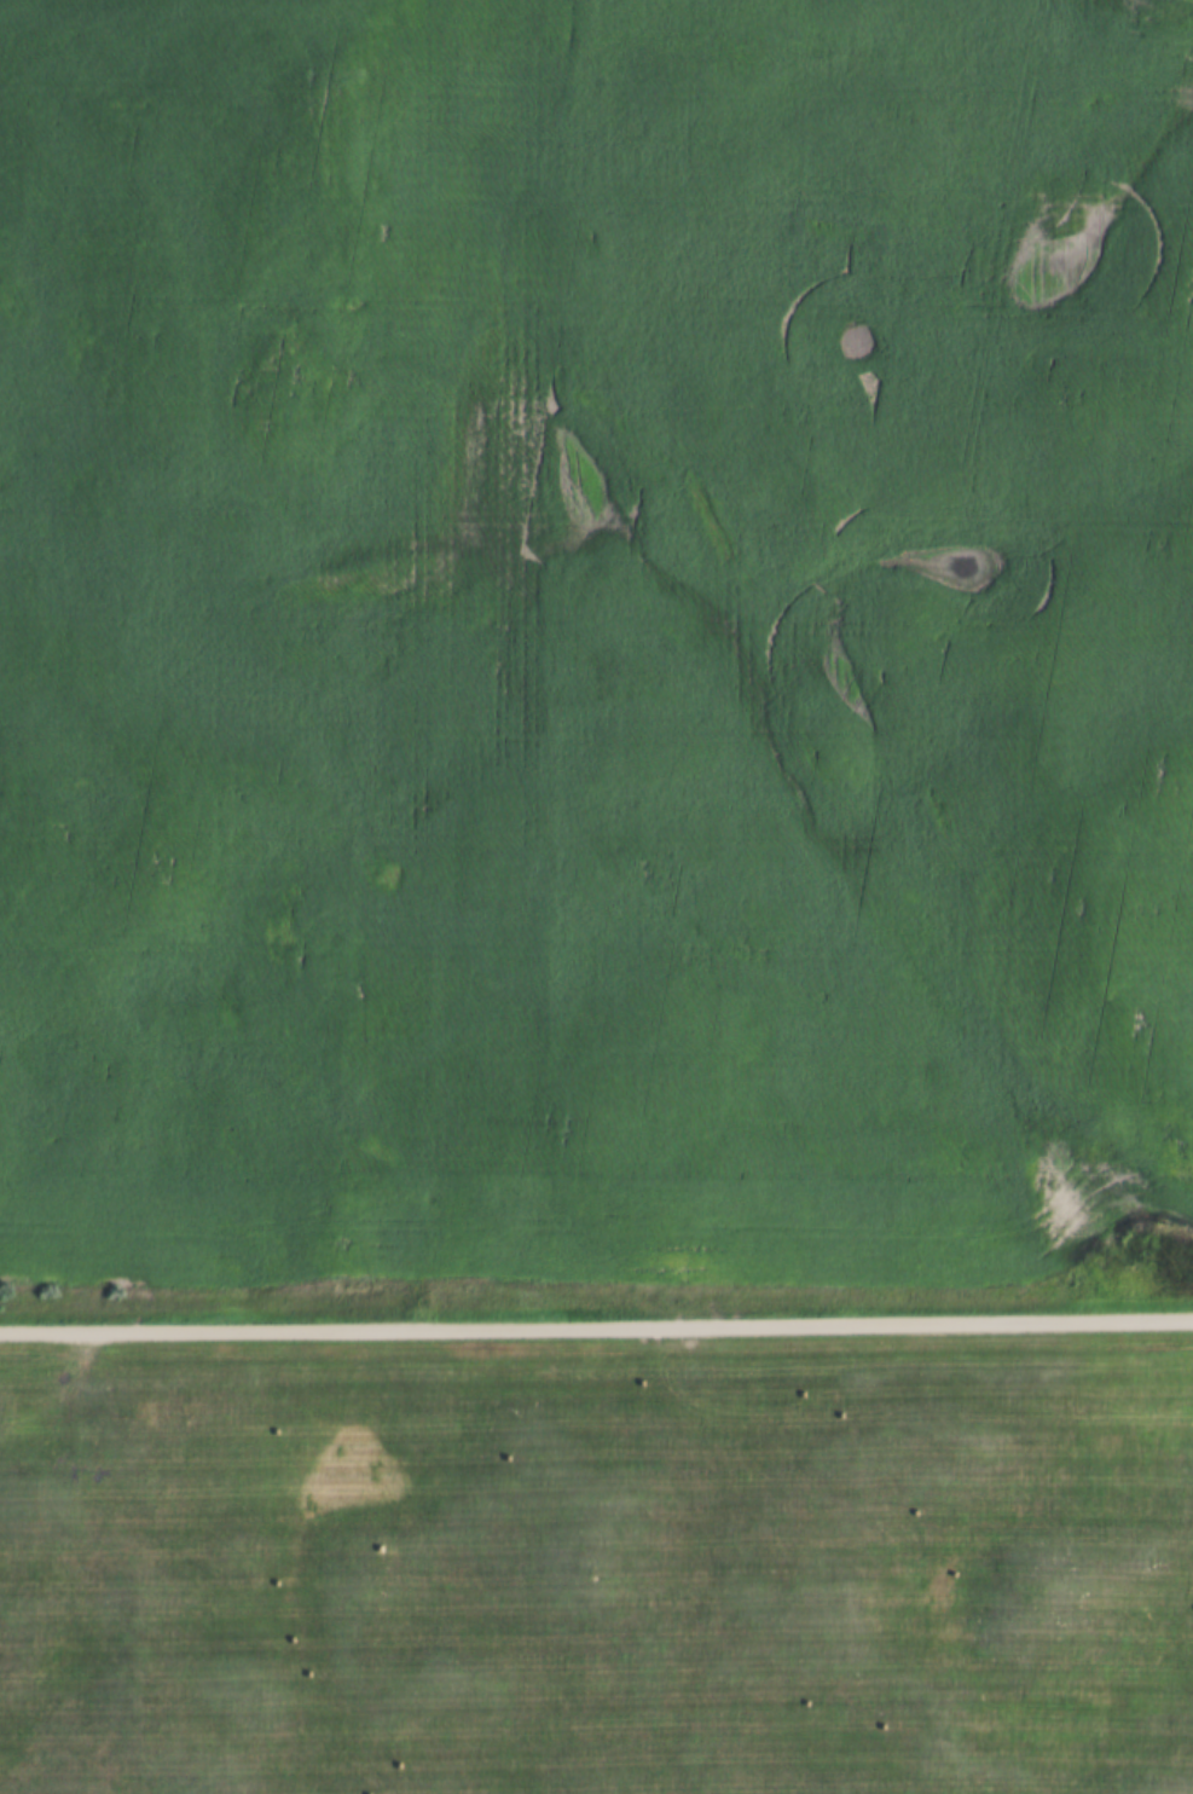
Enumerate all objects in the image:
road: (596, 1332)

